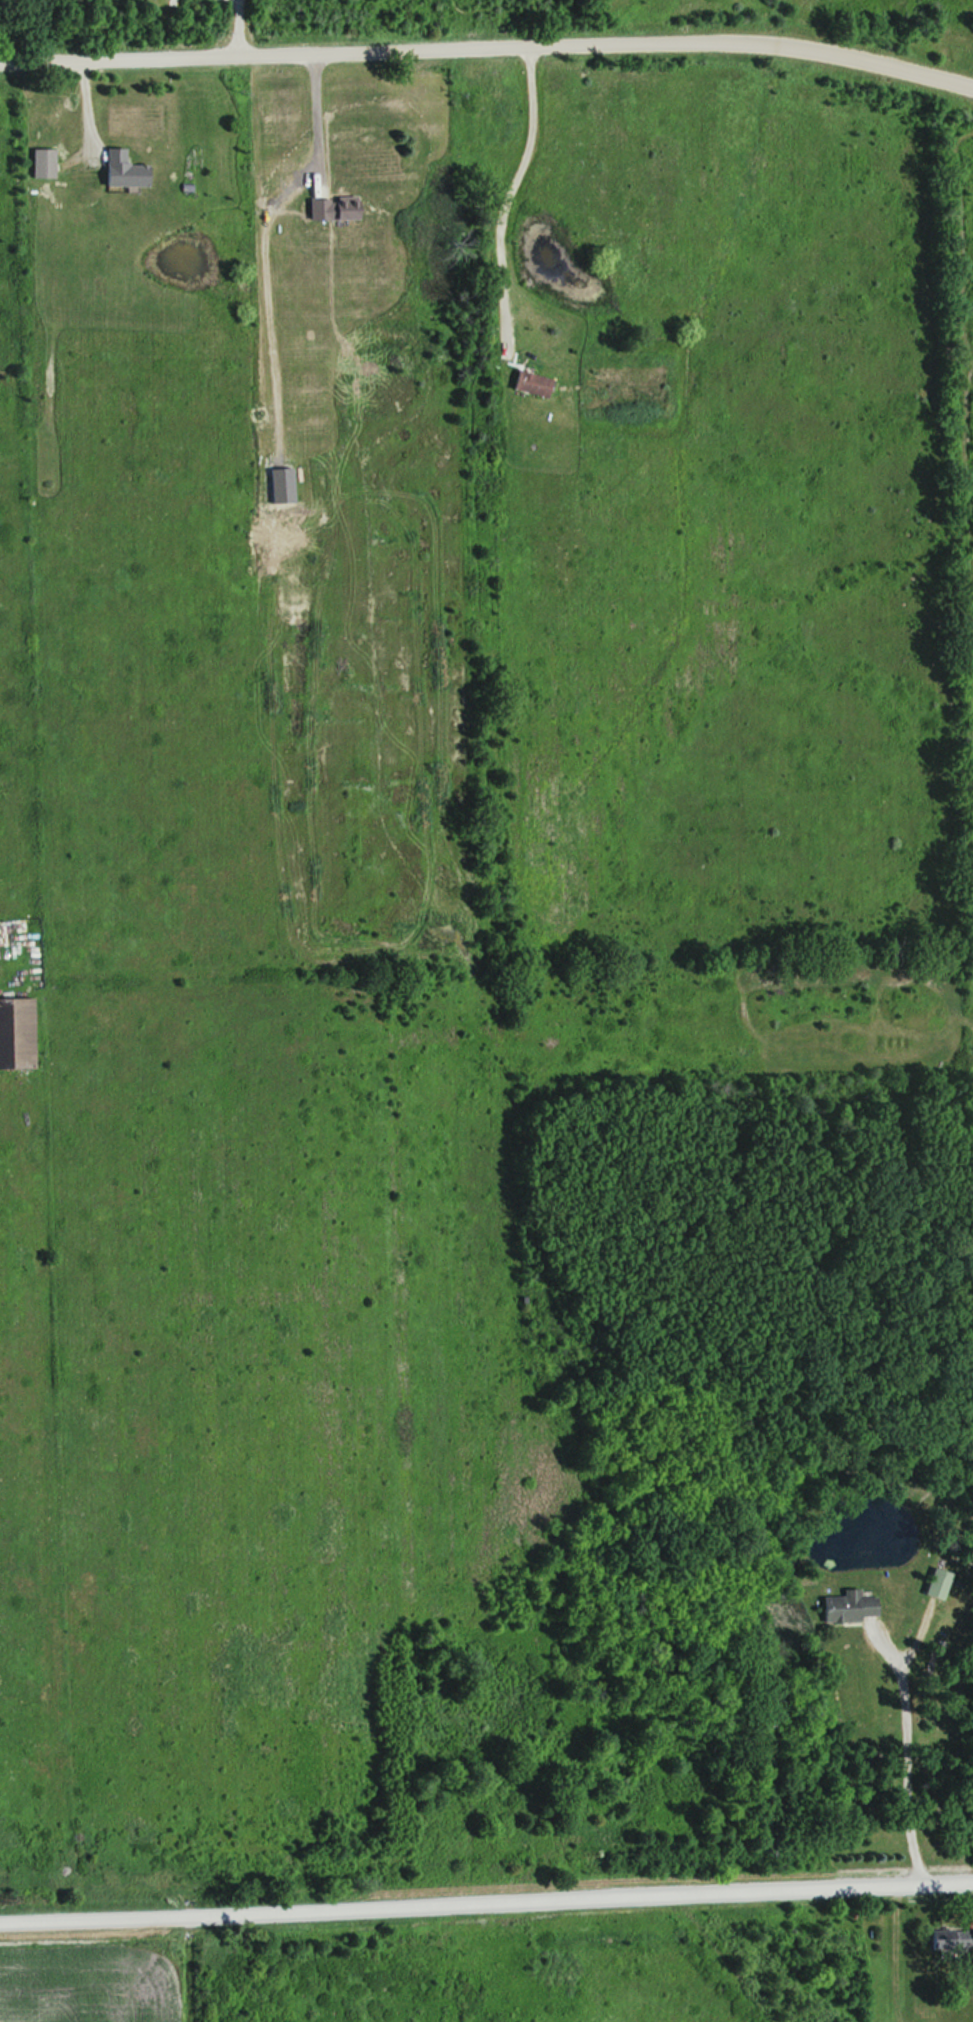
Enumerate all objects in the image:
road: (235, 27)
road: (489, 48)
road: (317, 113)
building: (36, 163)
building: (117, 171)
road: (508, 190)
building: (331, 207)
building: (525, 384)
building: (277, 485)
building: (931, 1583)
building: (841, 1606)
road: (909, 1780)
road: (486, 1906)
building: (958, 1940)

